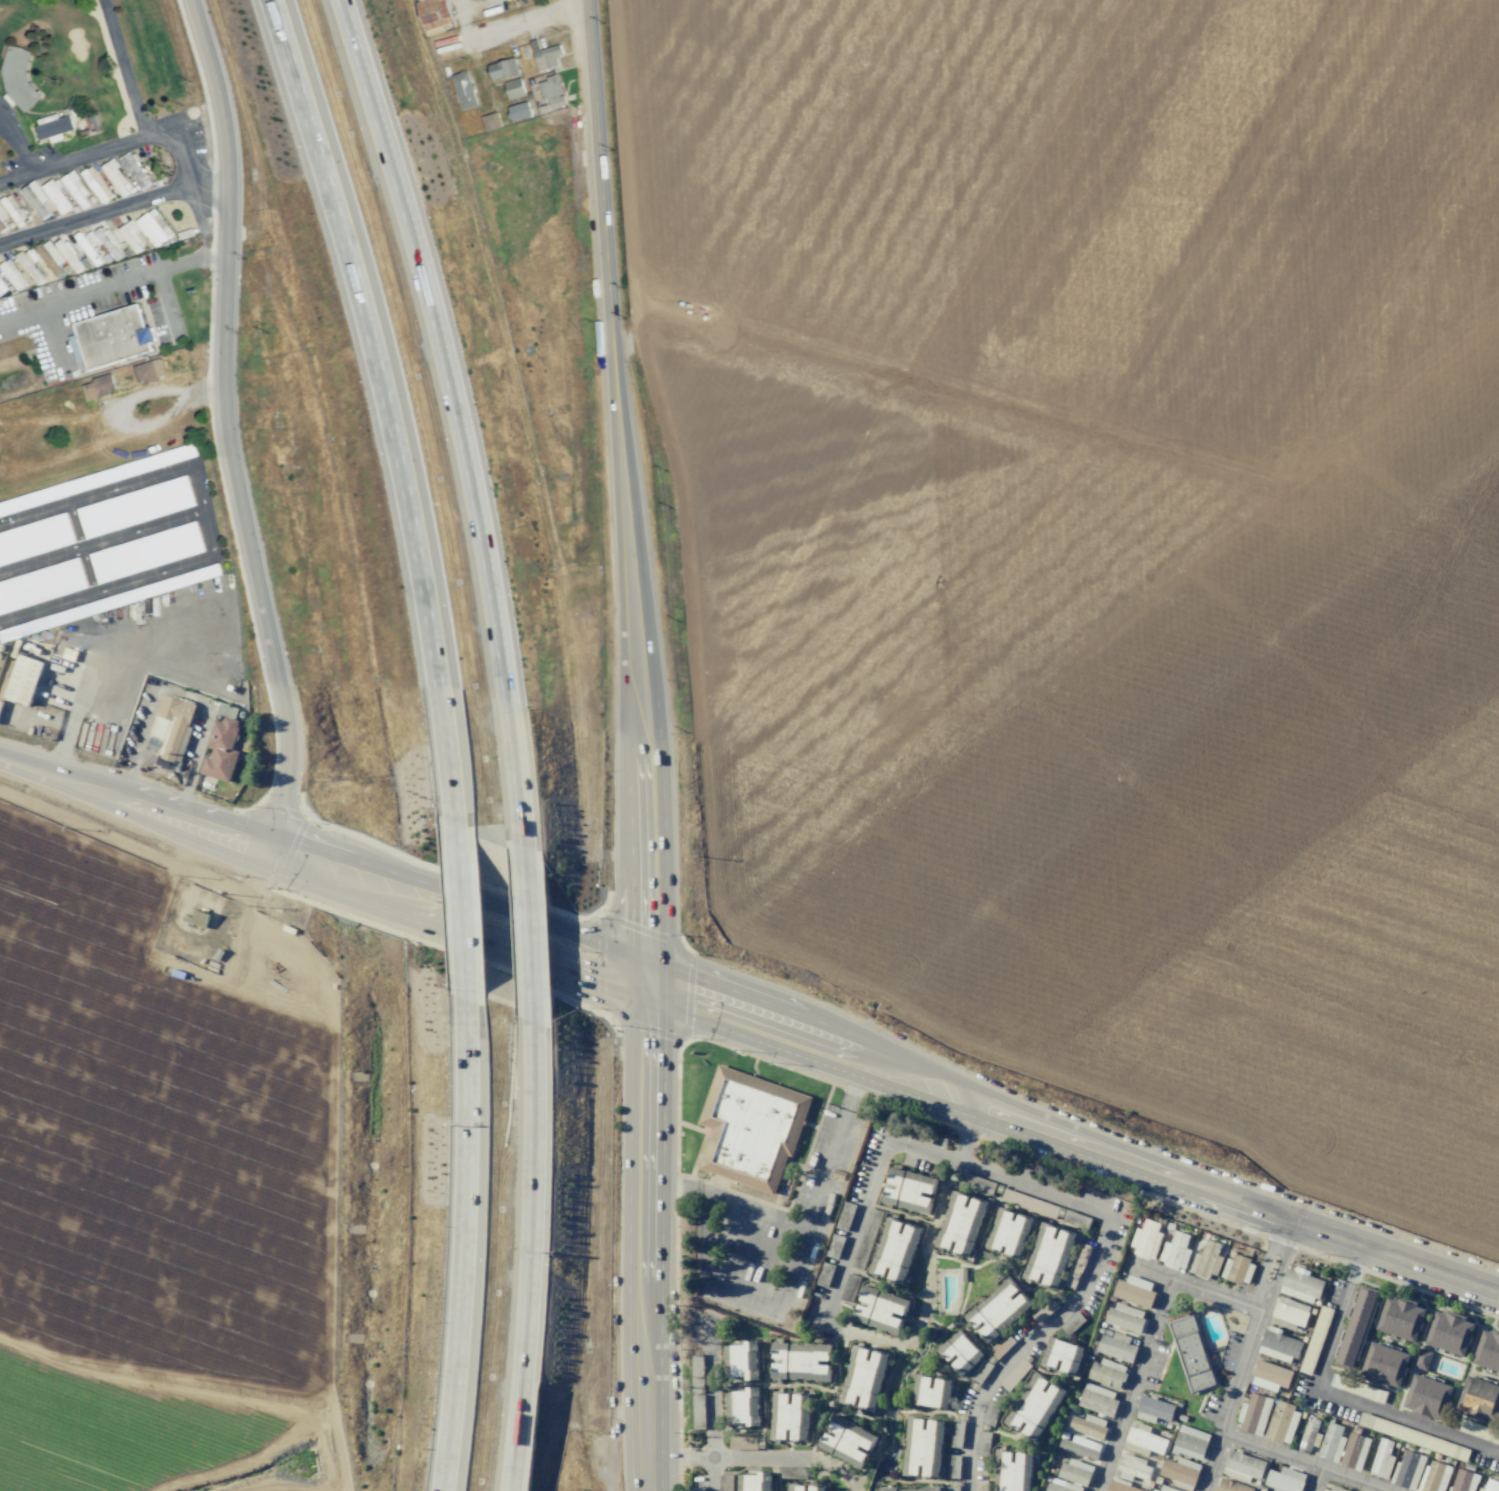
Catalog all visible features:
building: (434, 15)
road: (527, 21)
building: (547, 57)
building: (504, 69)
building: (17, 80)
building: (515, 88)
building: (553, 95)
road: (133, 100)
building: (520, 111)
building: (54, 129)
road: (82, 159)
building: (135, 171)
building: (115, 175)
building: (97, 185)
road: (206, 187)
building: (76, 189)
building: (57, 197)
building: (36, 199)
road: (93, 215)
building: (154, 227)
building: (131, 236)
building: (90, 246)
building: (74, 263)
building: (12, 274)
road: (123, 280)
building: (2, 288)
building: (113, 337)
building: (145, 372)
road: (391, 407)
road: (460, 420)
road: (225, 429)
road: (629, 493)
building: (136, 507)
building: (35, 539)
crop: (1103, 539)
building: (146, 552)
building: (41, 586)
building: (22, 679)
building: (220, 750)
road: (132, 812)
road: (86, 842)
road: (215, 883)
road: (460, 912)
building: (198, 918)
road: (246, 920)
road: (457, 921)
road: (151, 931)
road: (527, 933)
road: (295, 957)
road: (276, 988)
traffic signals: (648, 988)
building: (750, 1126)
road: (971, 1126)
building: (907, 1130)
road: (1073, 1139)
road: (960, 1154)
building: (977, 1183)
building: (908, 1190)
road: (329, 1195)
crop: (146, 1203)
building: (1030, 1203)
building: (845, 1215)
building: (1077, 1219)
road: (805, 1222)
building: (960, 1223)
road: (855, 1229)
parking lot: (770, 1231)
building: (1008, 1233)
building: (866, 1238)
road: (645, 1239)
building: (1145, 1240)
road: (465, 1245)
building: (835, 1246)
building: (894, 1249)
building: (1174, 1251)
road: (528, 1253)
building: (1049, 1256)
road: (1095, 1260)
building: (1206, 1260)
building: (1078, 1266)
building: (1237, 1269)
building: (825, 1275)
building: (1299, 1285)
building: (849, 1288)
road: (1198, 1288)
building: (1134, 1291)
building: (879, 1308)
building: (998, 1309)
building: (1044, 1310)
building: (1288, 1313)
building: (1125, 1317)
building: (1397, 1317)
building: (1072, 1323)
building: (1352, 1326)
building: (1447, 1331)
building: (1316, 1340)
building: (1001, 1346)
building: (1116, 1346)
building: (1280, 1347)
building: (1486, 1350)
building: (961, 1351)
building: (1191, 1353)
road: (1244, 1353)
building: (1063, 1354)
building: (1421, 1359)
building: (800, 1360)
building: (740, 1361)
building: (1381, 1364)
building: (981, 1371)
building: (1106, 1373)
road: (177, 1374)
building: (1015, 1374)
building: (1270, 1376)
building: (864, 1377)
road: (1132, 1384)
road: (708, 1386)
building: (1356, 1387)
building: (931, 1391)
building: (696, 1393)
road: (1334, 1393)
building: (1425, 1396)
building: (1478, 1398)
road: (232, 1399)
building: (1098, 1400)
building: (1036, 1405)
building: (742, 1406)
building: (1153, 1409)
building: (991, 1413)
building: (1253, 1414)
building: (790, 1415)
building: (1281, 1423)
building: (1088, 1426)
building: (1478, 1430)
building: (956, 1433)
building: (1411, 1435)
building: (1309, 1437)
road: (337, 1438)
building: (1144, 1440)
building: (847, 1441)
building: (983, 1442)
building: (1189, 1442)
building: (1331, 1442)
building: (741, 1443)
building: (923, 1446)
building: (1081, 1447)
building: (1354, 1451)
road: (670, 1456)
road: (698, 1456)
road: (791, 1458)
building: (1381, 1459)
road: (1306, 1462)
road: (709, 1464)
building: (953, 1466)
building: (1243, 1466)
building: (1132, 1468)
building: (1407, 1470)
building: (1012, 1471)
building: (792, 1472)
building: (1075, 1472)
building: (1180, 1472)
road: (710, 1477)
building: (1434, 1477)
road: (1314, 1479)
building: (1284, 1480)
building: (1463, 1481)
building: (754, 1482)
building: (725, 1483)
building: (980, 1485)
building: (1061, 1486)
building: (1122, 1486)
building: (1229, 1486)
building: (796, 1487)
building: (816, 1487)
building: (911, 1487)
building: (1489, 1487)
road: (275, 1488)
building: (953, 1488)
building: (1165, 1488)
building: (1333, 1488)
building: (697, 1489)
road: (853, 1489)

